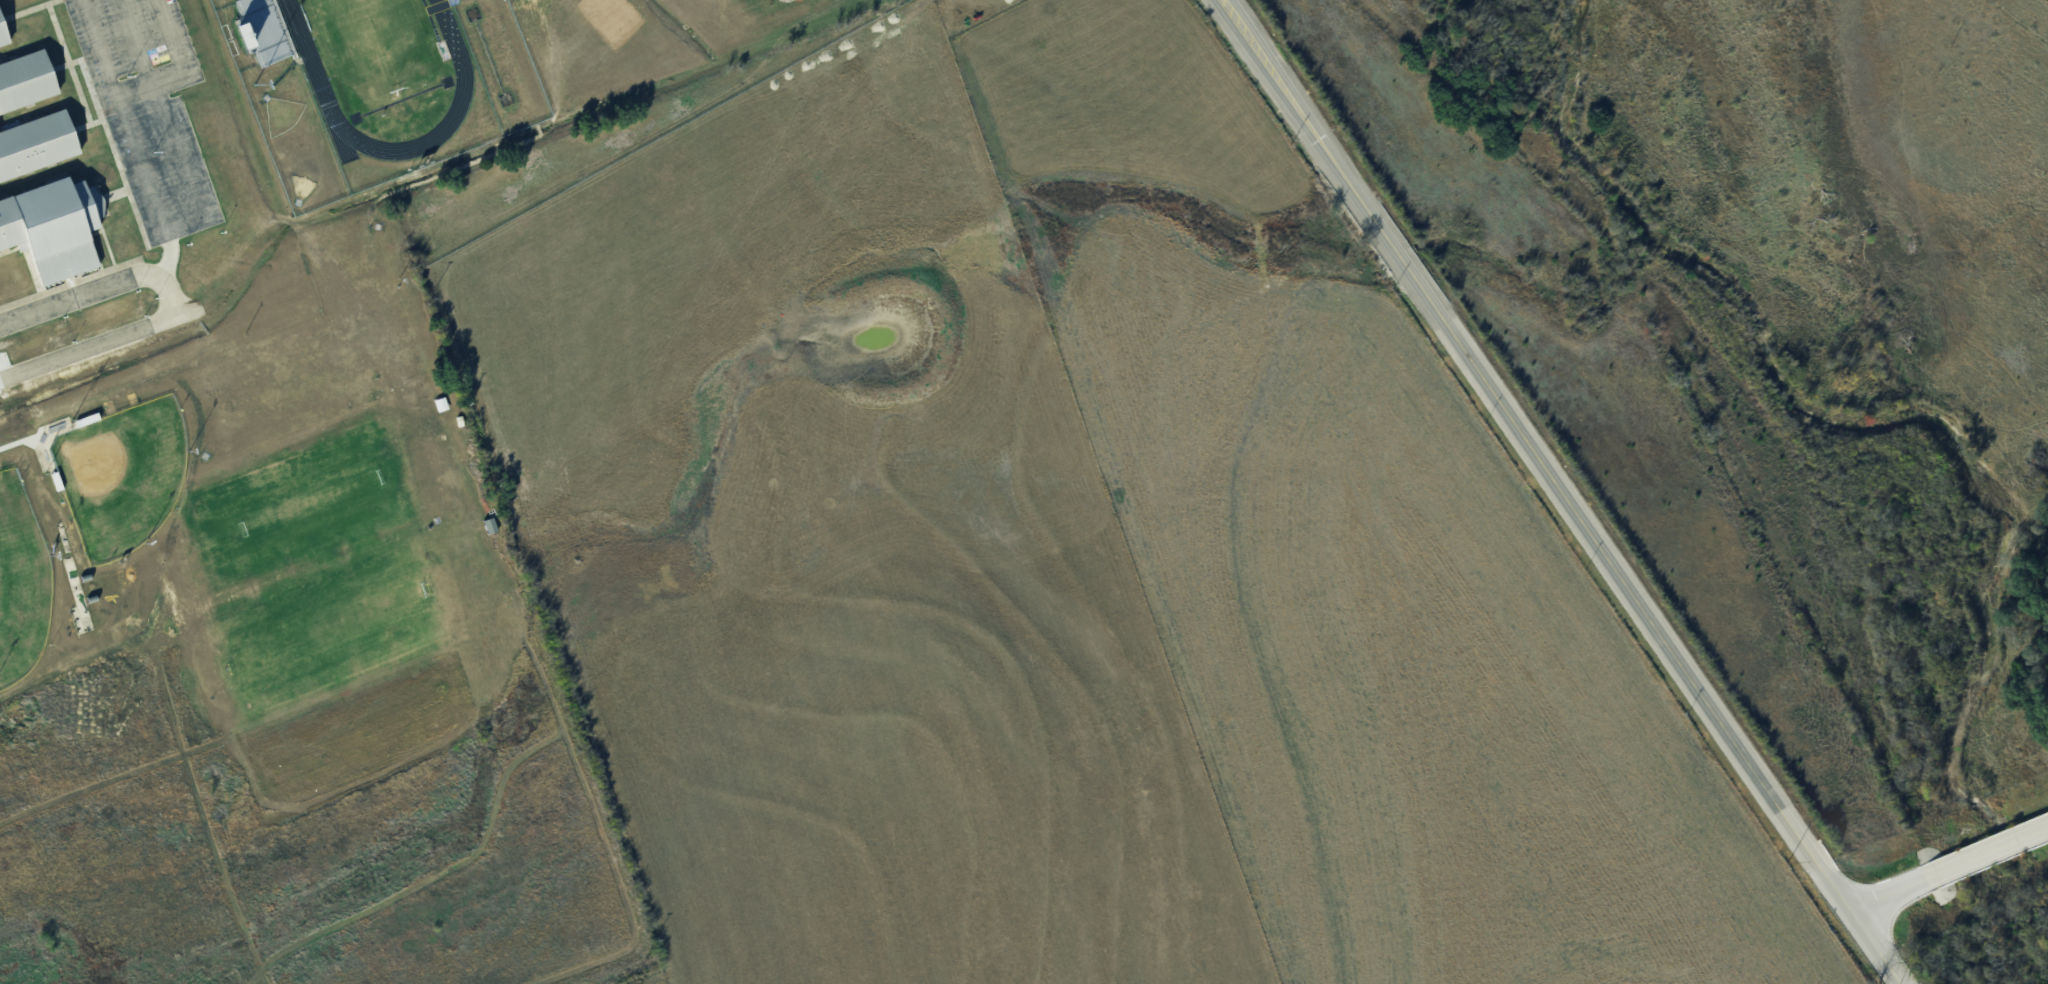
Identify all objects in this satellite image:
building: (259, 21)
building: (5, 26)
road: (137, 42)
building: (0, 47)
building: (0, 61)
stadium: (368, 85)
building: (23, 86)
road: (135, 91)
road: (166, 119)
building: (33, 150)
road: (161, 218)
building: (49, 233)
road: (105, 340)
building: (443, 403)
road: (1523, 435)
building: (58, 480)
road: (1992, 848)
road: (1891, 889)
road: (1859, 928)

